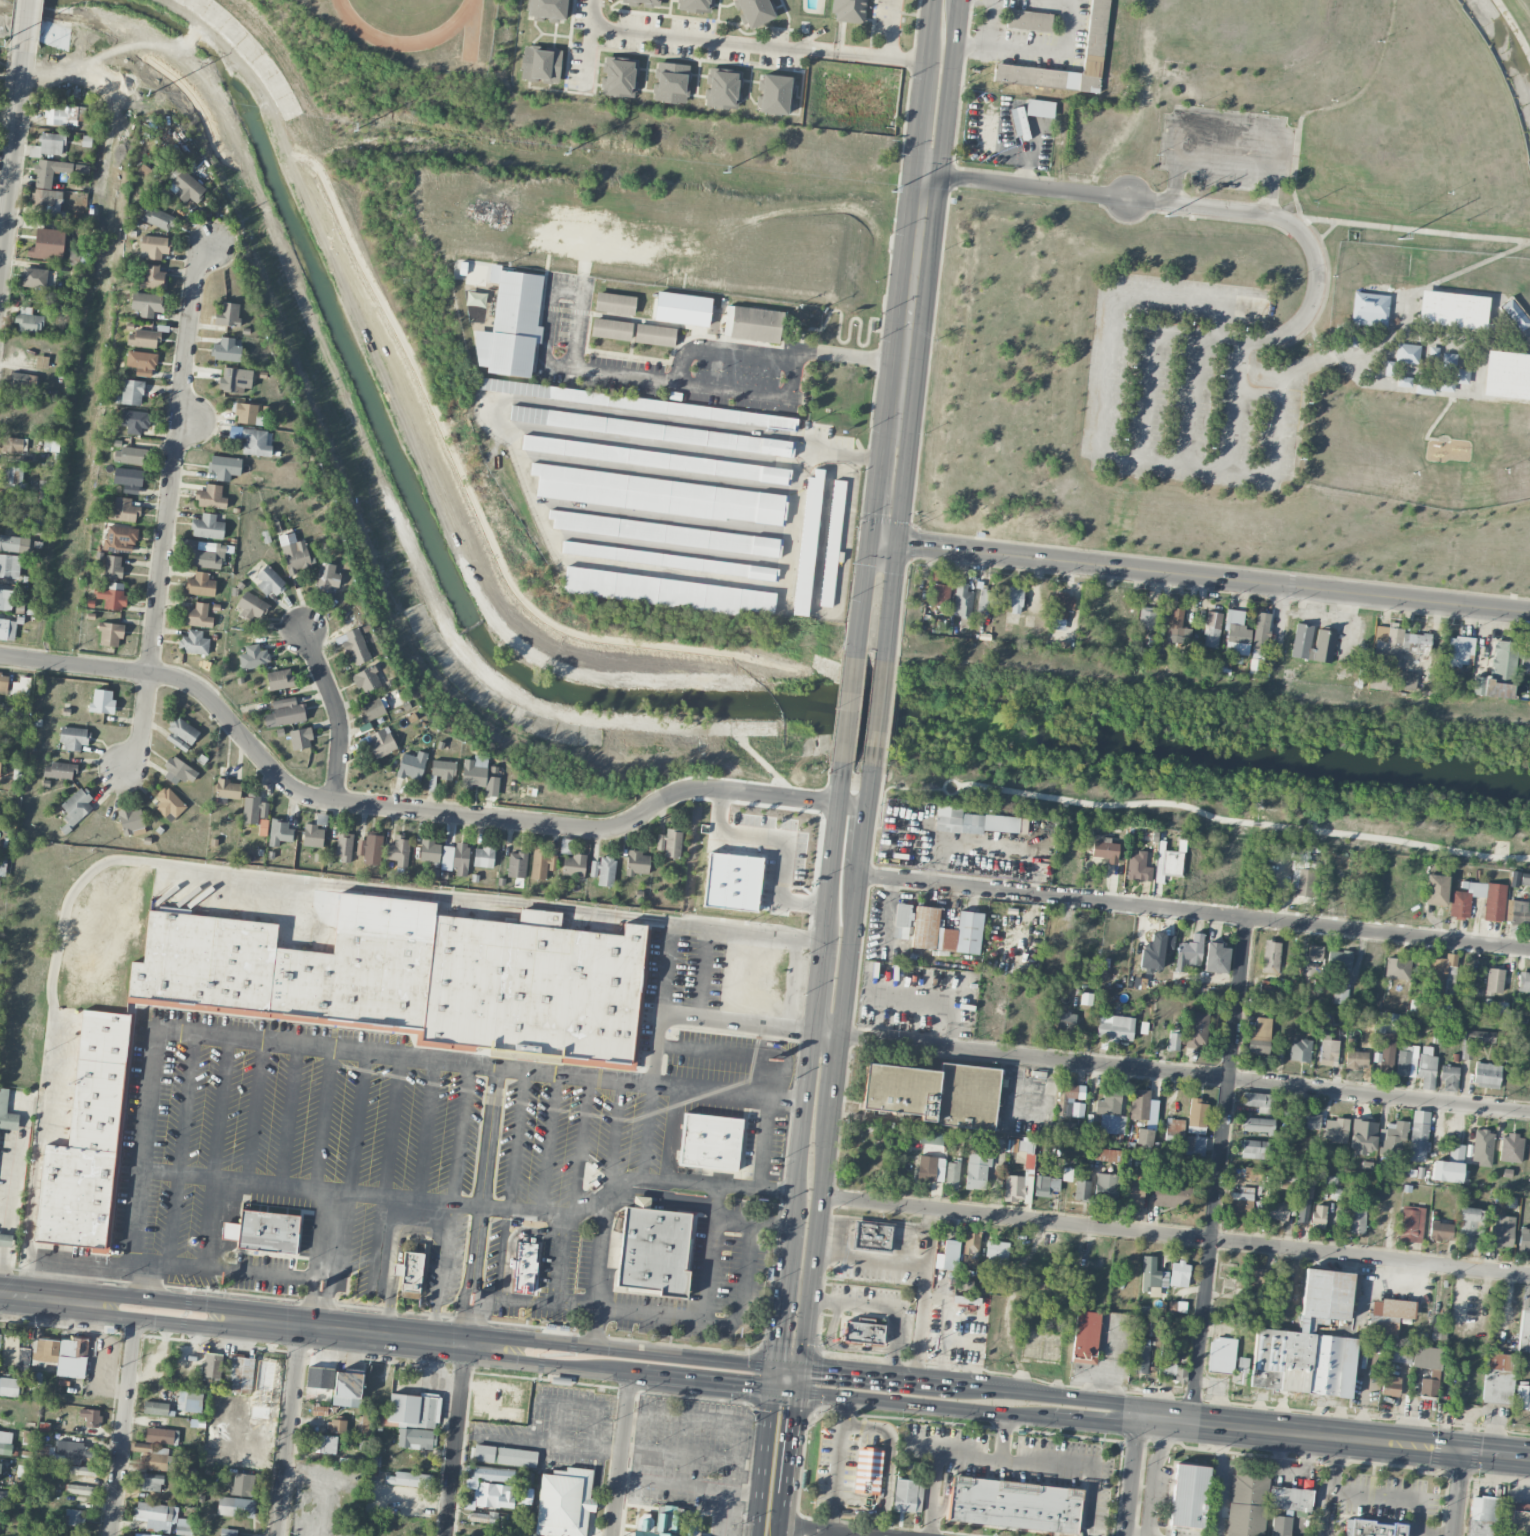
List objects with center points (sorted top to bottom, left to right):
building: (642, 2)
building: (695, 5)
building: (547, 10)
building: (849, 10)
building: (755, 12)
road: (954, 15)
building: (1029, 20)
road: (989, 21)
road: (26, 25)
road: (890, 29)
building: (1095, 32)
road: (929, 33)
road: (702, 37)
power tower: (6, 47)
road: (1039, 50)
road: (879, 57)
building: (541, 64)
building: (619, 76)
building: (671, 82)
building: (723, 88)
power tower: (143, 94)
building: (775, 94)
road: (947, 108)
building: (1040, 108)
building: (65, 115)
road: (920, 118)
building: (1019, 122)
power tower: (355, 126)
building: (48, 145)
power tower: (565, 152)
road: (12, 153)
road: (1226, 161)
building: (80, 169)
power tower: (723, 172)
building: (48, 185)
building: (187, 187)
power tower: (892, 190)
road: (918, 192)
road: (1174, 203)
building: (492, 214)
power tower: (1166, 215)
building: (159, 219)
road: (1409, 228)
power tower: (1401, 240)
building: (47, 244)
building: (154, 246)
building: (78, 257)
building: (34, 277)
building: (152, 278)
building: (147, 303)
building: (615, 303)
park: (1262, 306)
building: (682, 308)
building: (1370, 308)
road: (912, 310)
building: (1452, 310)
building: (228, 314)
building: (1515, 314)
building: (28, 321)
building: (511, 324)
building: (755, 324)
building: (611, 329)
road: (1166, 329)
building: (655, 335)
building: (143, 338)
road: (723, 349)
building: (226, 350)
road: (827, 354)
building: (1403, 356)
building: (41, 361)
building: (141, 362)
road: (576, 367)
building: (1455, 369)
building: (1507, 375)
building: (21, 378)
building: (230, 381)
building: (1404, 381)
parking lot: (1192, 386)
building: (132, 391)
road: (1148, 393)
road: (1192, 397)
building: (637, 403)
building: (247, 413)
road: (1236, 416)
building: (134, 420)
building: (651, 430)
building: (252, 440)
building: (12, 444)
road: (1101, 446)
building: (130, 455)
building: (656, 459)
building: (224, 467)
road: (908, 474)
building: (128, 479)
building: (14, 481)
building: (660, 495)
building: (211, 497)
road: (169, 505)
building: (123, 510)
building: (207, 526)
road: (872, 530)
building: (666, 533)
building: (120, 538)
traffic signals: (872, 539)
road: (887, 541)
building: (14, 543)
building: (832, 543)
traffic signals: (902, 543)
building: (808, 544)
building: (294, 553)
building: (207, 555)
building: (669, 560)
building: (9, 565)
building: (112, 566)
building: (936, 575)
building: (326, 577)
road: (1216, 578)
building: (269, 581)
building: (200, 584)
building: (667, 592)
building: (940, 594)
building: (114, 596)
building: (6, 599)
building: (985, 599)
building: (1014, 599)
building: (962, 600)
road: (895, 602)
building: (1062, 605)
building: (251, 606)
building: (199, 615)
building: (1147, 618)
building: (1057, 624)
building: (1177, 626)
building: (7, 628)
road: (564, 629)
building: (1212, 629)
building: (110, 634)
building: (1237, 634)
building: (1260, 635)
building: (194, 643)
building: (1312, 643)
building: (1397, 644)
building: (354, 646)
building: (1459, 650)
road: (23, 657)
building: (254, 657)
building: (1525, 659)
building: (1498, 672)
building: (279, 679)
building: (366, 679)
building: (1378, 681)
building: (1407, 681)
building: (4, 682)
building: (22, 688)
building: (102, 701)
building: (372, 709)
road: (851, 711)
building: (285, 712)
road: (339, 712)
road: (881, 715)
building: (181, 733)
building: (74, 737)
building: (300, 738)
building: (381, 742)
building: (0, 766)
building: (412, 766)
building: (443, 769)
building: (59, 770)
building: (178, 770)
building: (474, 771)
building: (431, 783)
road: (872, 787)
building: (228, 789)
road: (894, 789)
building: (168, 802)
building: (76, 806)
building: (253, 809)
road: (439, 811)
building: (131, 820)
building: (978, 822)
road: (1240, 823)
building: (262, 826)
building: (279, 831)
building: (313, 835)
road: (867, 835)
road: (786, 839)
building: (669, 843)
building: (344, 846)
building: (370, 848)
building: (398, 850)
building: (1105, 850)
building: (430, 851)
building: (483, 856)
building: (455, 858)
building: (637, 862)
building: (1172, 862)
building: (542, 863)
building: (3, 864)
building: (516, 864)
building: (573, 866)
road: (208, 867)
building: (1138, 867)
building: (603, 870)
building: (1524, 879)
building: (733, 882)
building: (1303, 882)
building: (1436, 889)
building: (1494, 906)
road: (1196, 911)
building: (1518, 912)
building: (902, 920)
building: (946, 931)
road: (853, 949)
building: (1155, 951)
building: (1315, 952)
building: (1189, 953)
building: (1271, 957)
building: (1216, 958)
building: (1340, 960)
building: (1397, 968)
road: (666, 969)
building: (1441, 975)
building: (416, 980)
building: (1494, 980)
building: (1524, 981)
building: (1268, 987)
building: (1338, 996)
building: (967, 1009)
road: (703, 1020)
building: (1065, 1024)
building: (1114, 1027)
building: (1197, 1030)
road: (829, 1032)
building: (1260, 1037)
building: (1173, 1041)
building: (1474, 1041)
road: (346, 1049)
building: (1299, 1050)
building: (1328, 1050)
building: (1356, 1058)
building: (1385, 1058)
building: (1407, 1061)
road: (809, 1065)
building: (1426, 1066)
road: (1186, 1074)
building: (1486, 1075)
road: (839, 1076)
building: (1449, 1077)
building: (934, 1092)
building: (1070, 1099)
building: (1257, 1101)
building: (1139, 1104)
road: (221, 1105)
road: (256, 1109)
building: (8, 1110)
building: (1110, 1110)
road: (289, 1113)
building: (1197, 1116)
road: (324, 1117)
road: (358, 1121)
building: (1313, 1121)
road: (393, 1124)
building: (1258, 1124)
building: (1068, 1126)
road: (427, 1128)
building: (1335, 1129)
road: (647, 1130)
road: (460, 1131)
building: (1174, 1132)
road: (490, 1135)
building: (1418, 1135)
road: (615, 1136)
building: (1144, 1136)
building: (1363, 1136)
road: (518, 1137)
building: (1392, 1139)
building: (88, 1140)
road: (549, 1140)
building: (710, 1141)
road: (764, 1142)
road: (581, 1143)
building: (1195, 1145)
building: (1482, 1146)
road: (180, 1148)
building: (1511, 1148)
building: (1255, 1149)
building: (1449, 1165)
building: (1029, 1167)
building: (930, 1168)
road: (1219, 1170)
building: (977, 1171)
building: (1067, 1173)
building: (1253, 1173)
building: (952, 1174)
road: (11, 1185)
road: (719, 1185)
building: (1046, 1185)
building: (1106, 1186)
building: (1081, 1189)
building: (1134, 1193)
building: (1172, 1193)
road: (407, 1196)
building: (1305, 1201)
building: (1241, 1203)
road: (497, 1205)
building: (1278, 1211)
building: (1318, 1216)
building: (1356, 1219)
road: (753, 1220)
road: (210, 1221)
building: (1411, 1223)
building: (1469, 1225)
road: (328, 1229)
building: (264, 1230)
building: (1440, 1231)
building: (1501, 1232)
building: (872, 1236)
road: (1177, 1236)
building: (4, 1238)
road: (4, 1239)
building: (1524, 1239)
road: (384, 1241)
road: (819, 1244)
building: (969, 1248)
building: (654, 1249)
road: (600, 1251)
building: (996, 1252)
road: (447, 1253)
building: (950, 1254)
road: (559, 1257)
road: (1, 1258)
building: (525, 1266)
building: (410, 1273)
building: (1178, 1273)
building: (1153, 1277)
building: (1257, 1277)
road: (743, 1286)
building: (1282, 1287)
road: (44, 1295)
road: (925, 1295)
road: (168, 1299)
road: (513, 1299)
road: (312, 1302)
road: (706, 1307)
road: (386, 1316)
building: (1388, 1317)
road: (165, 1322)
road: (431, 1324)
road: (336, 1330)
building: (863, 1330)
building: (1524, 1330)
building: (1439, 1332)
building: (1086, 1336)
building: (0, 1341)
building: (1310, 1341)
traffic signals: (779, 1343)
road: (601, 1348)
building: (1221, 1353)
building: (1398, 1353)
building: (61, 1355)
building: (1141, 1355)
building: (1172, 1361)
road: (533, 1363)
building: (1242, 1364)
building: (1428, 1368)
building: (214, 1369)
road: (790, 1369)
traffic signals: (825, 1373)
building: (239, 1374)
building: (319, 1377)
road: (872, 1377)
road: (775, 1378)
building: (1497, 1378)
road: (803, 1381)
road: (707, 1382)
building: (1390, 1385)
building: (9, 1386)
road: (958, 1386)
traffic signals: (751, 1387)
building: (347, 1389)
road: (788, 1390)
building: (1522, 1397)
road: (1072, 1398)
building: (189, 1401)
road: (926, 1406)
building: (155, 1408)
building: (414, 1409)
building: (90, 1417)
traffic signals: (799, 1417)
road: (1138, 1417)
road: (687, 1419)
building: (366, 1423)
road: (1094, 1424)
road: (1152, 1424)
building: (336, 1426)
road: (123, 1428)
road: (290, 1431)
building: (159, 1435)
road: (456, 1435)
road: (1315, 1436)
building: (27, 1437)
building: (417, 1438)
road: (796, 1441)
building: (5, 1442)
building: (323, 1443)
building: (73, 1450)
traffic signals: (1464, 1450)
road: (680, 1451)
building: (46, 1453)
road: (1497, 1453)
road: (622, 1454)
road: (950, 1454)
building: (505, 1455)
building: (155, 1457)
road: (765, 1462)
road: (839, 1463)
road: (1071, 1468)
building: (82, 1470)
building: (869, 1472)
building: (491, 1473)
building: (528, 1477)
building: (409, 1479)
building: (150, 1481)
road: (1131, 1482)
building: (242, 1484)
road: (690, 1485)
building: (80, 1489)
road: (1459, 1492)
building: (905, 1494)
building: (1189, 1494)
building: (3, 1495)
road: (1384, 1495)
building: (493, 1496)
building: (1291, 1497)
building: (565, 1502)
building: (1247, 1502)
building: (1014, 1505)
building: (236, 1506)
building: (411, 1506)
road: (722, 1513)
road: (788, 1514)
building: (1483, 1515)
building: (478, 1516)
building: (74, 1517)
building: (160, 1517)
building: (1520, 1519)
building: (664, 1522)
building: (1280, 1526)
building: (1373, 1528)
road: (841, 1529)
building: (228, 1532)
building: (344, 1534)
building: (149, 1535)

